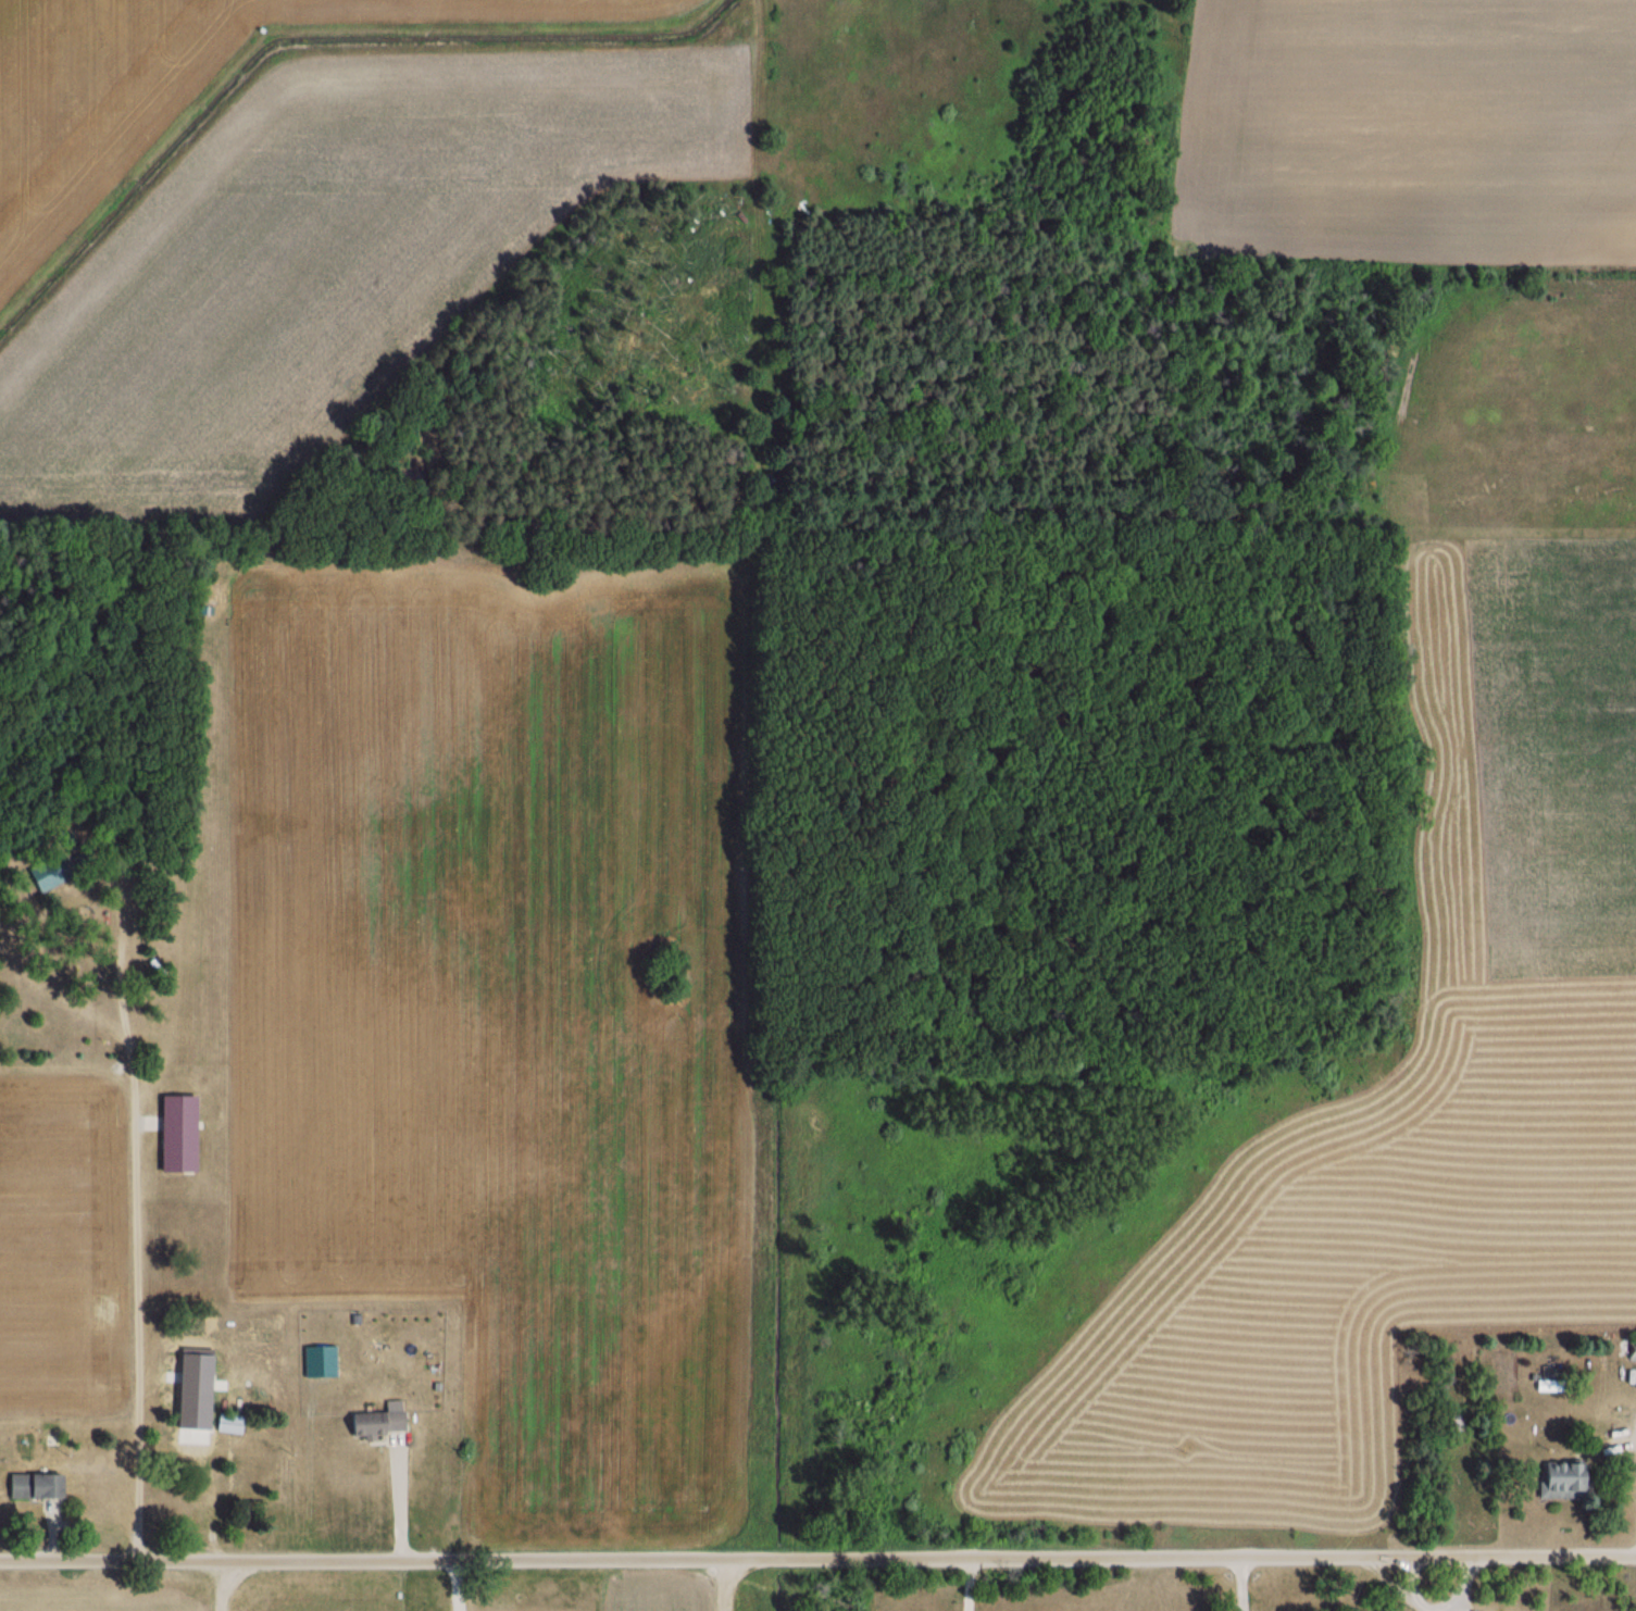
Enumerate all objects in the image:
building: (177, 1135)
building: (1631, 1350)
building: (375, 1423)
building: (229, 1424)
building: (1561, 1479)
building: (34, 1487)
road: (400, 1498)
building: (174, 1506)
road: (817, 1559)
road: (971, 1584)
road: (457, 1585)

